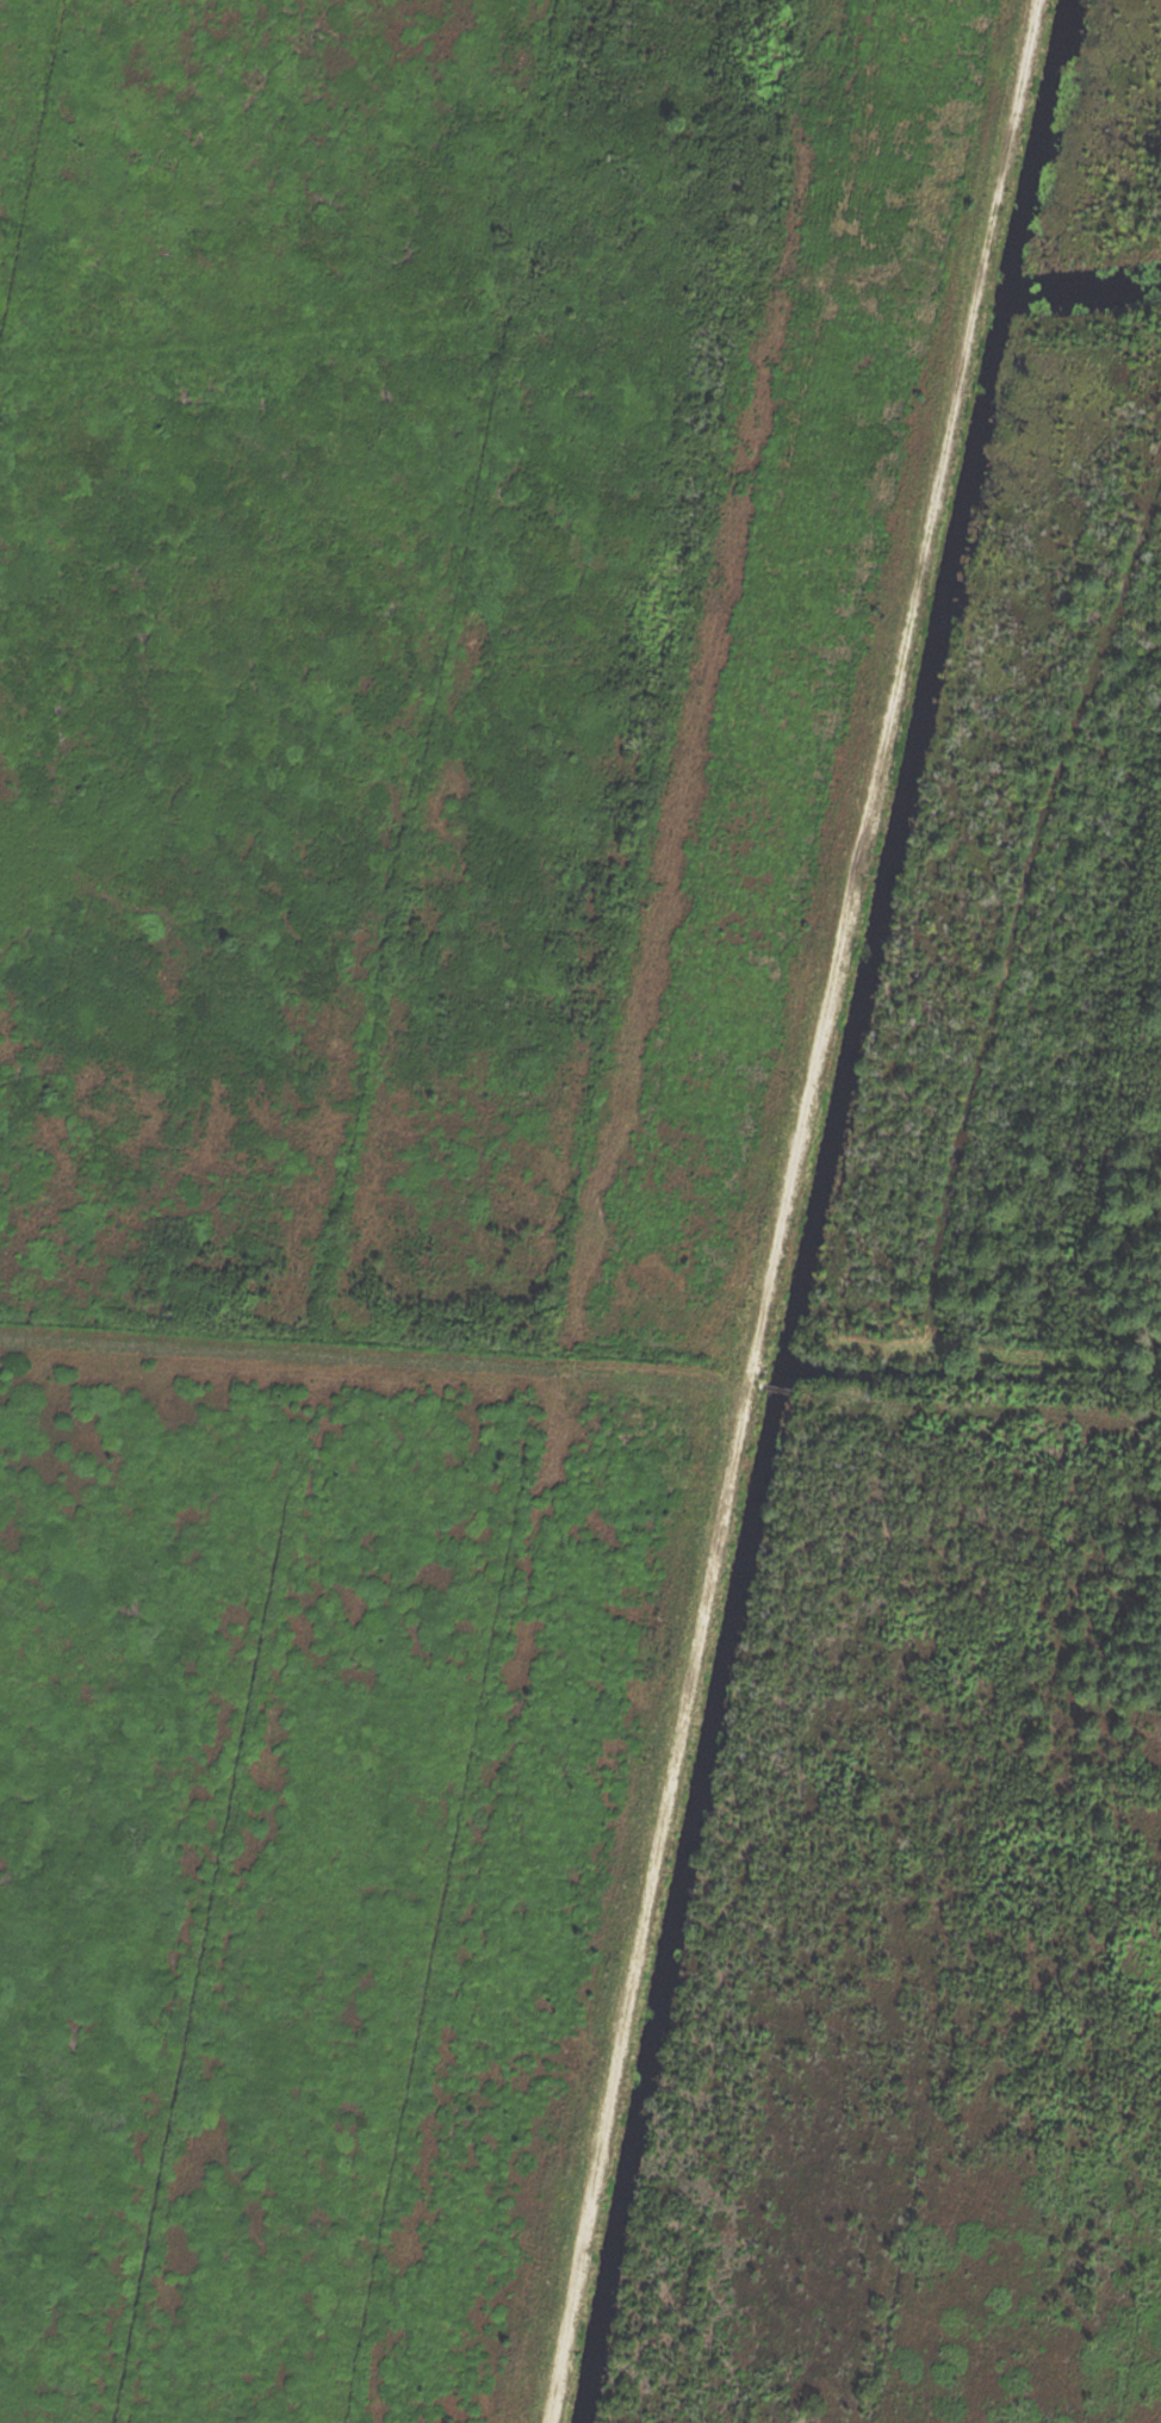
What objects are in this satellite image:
road: (787, 1209)
road: (995, 1349)
road: (375, 1359)
road: (757, 1384)
road: (782, 1390)
road: (981, 1404)

